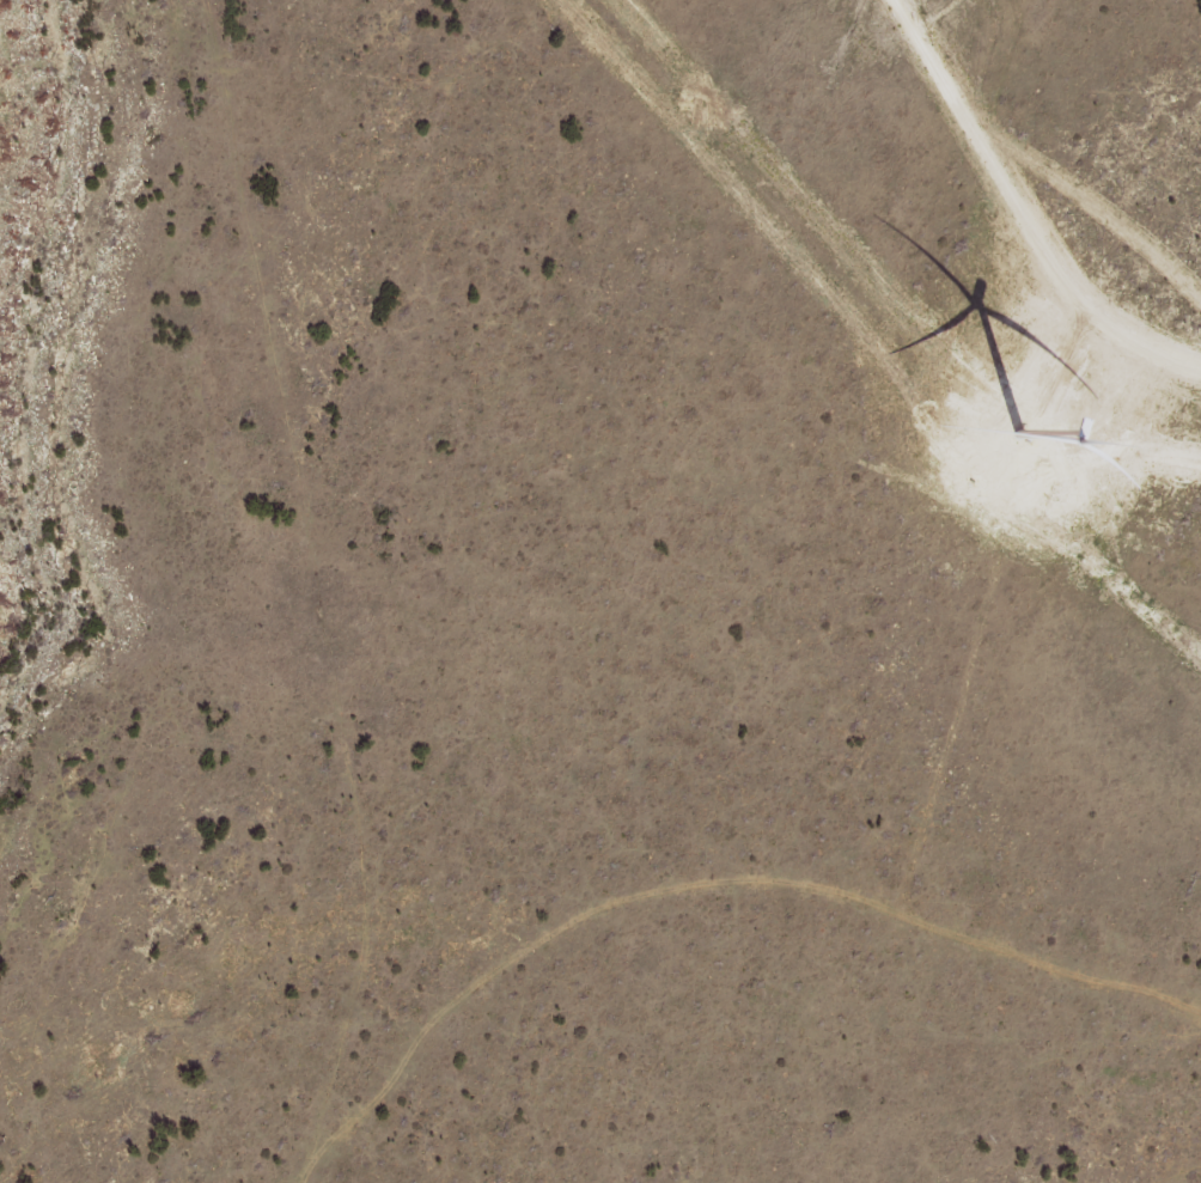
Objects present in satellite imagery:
wind turbine: (1014, 425)
road: (355, 587)
road: (776, 932)

